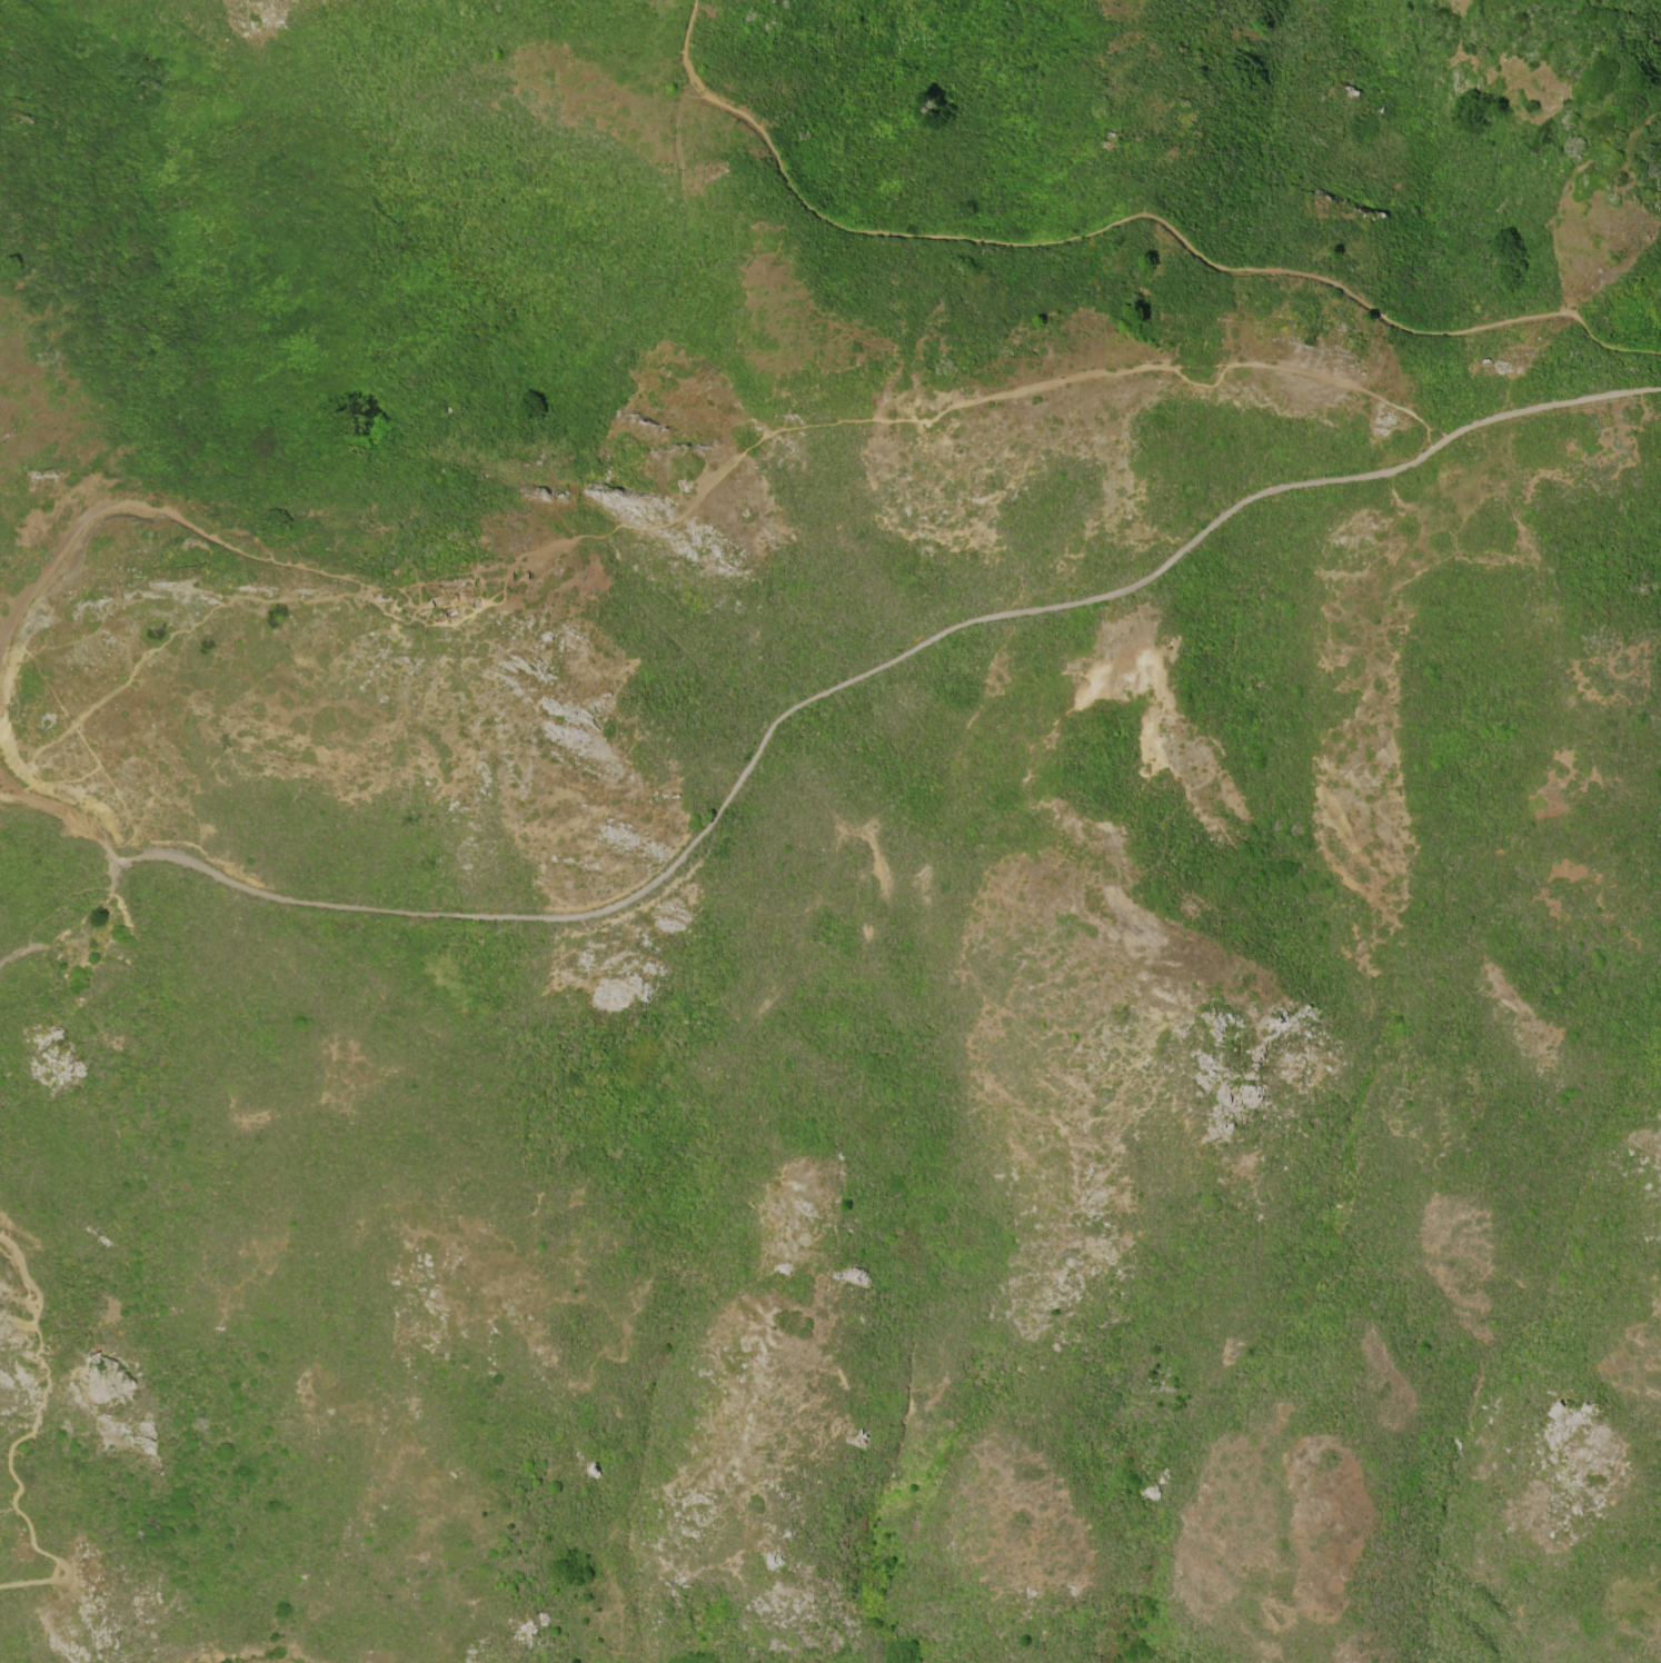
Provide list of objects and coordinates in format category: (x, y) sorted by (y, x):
road: (1130, 216)
road: (662, 522)
road: (457, 577)
road: (868, 664)
road: (2, 783)
road: (2, 787)
road: (67, 817)
road: (113, 875)
road: (19, 954)
road: (21, 1268)
road: (30, 1536)

